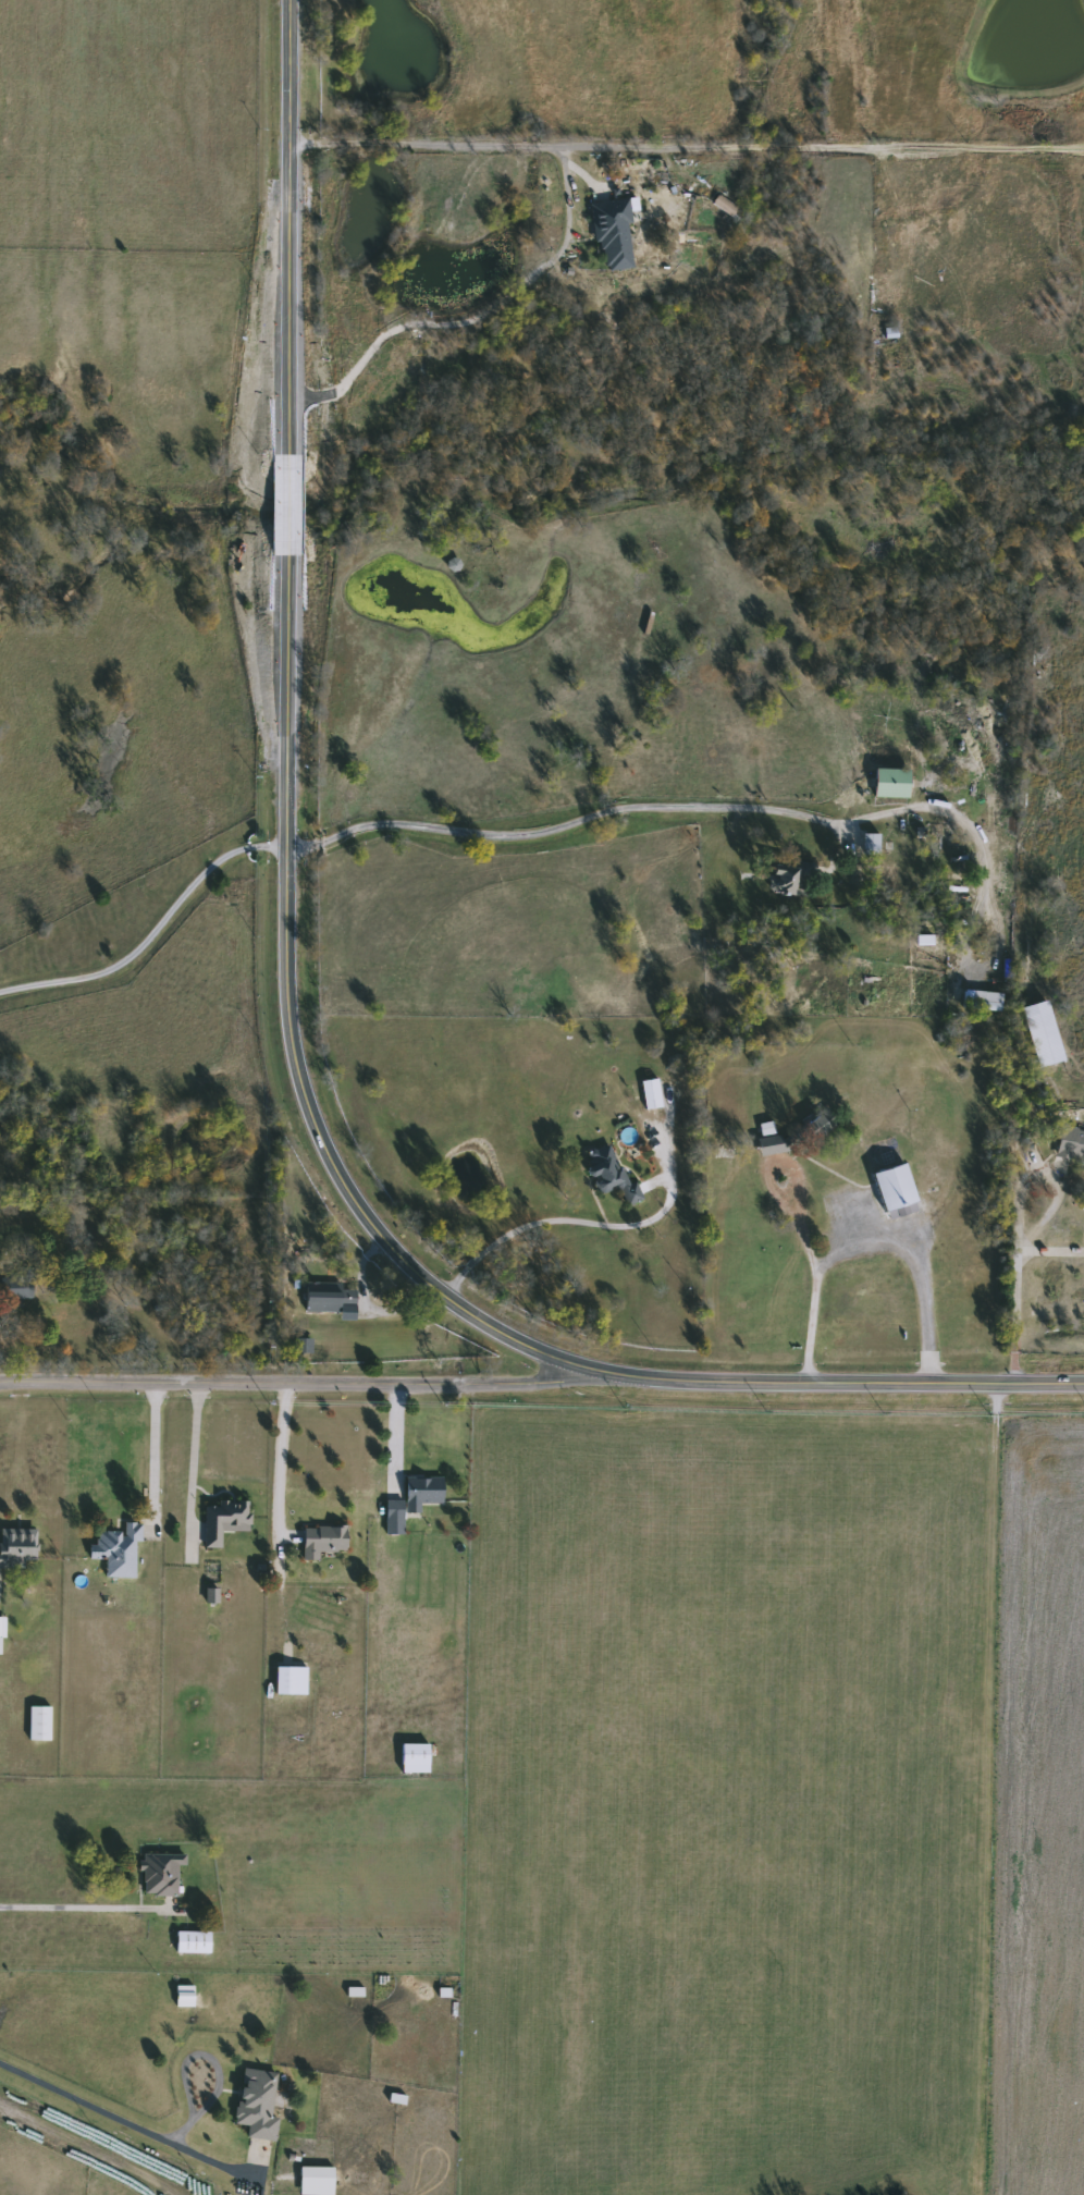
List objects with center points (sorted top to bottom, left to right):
road: (685, 147)
building: (608, 234)
road: (426, 326)
building: (886, 335)
building: (887, 784)
road: (568, 824)
building: (866, 846)
building: (785, 880)
road: (151, 934)
road: (285, 1003)
building: (1036, 1034)
building: (646, 1094)
building: (811, 1126)
building: (1067, 1144)
building: (607, 1175)
building: (886, 1186)
road: (793, 1216)
road: (510, 1227)
road: (870, 1255)
road: (359, 1268)
building: (324, 1297)
road: (1015, 1310)
road: (294, 1394)
road: (151, 1457)
road: (278, 1457)
road: (192, 1467)
building: (407, 1501)
building: (221, 1521)
building: (318, 1541)
building: (16, 1545)
building: (113, 1550)
building: (285, 1680)
building: (35, 1724)
building: (409, 1758)
building: (155, 1875)
road: (78, 1905)
building: (188, 1941)
road: (214, 2065)
building: (252, 2104)
road: (120, 2121)
building: (311, 2181)

